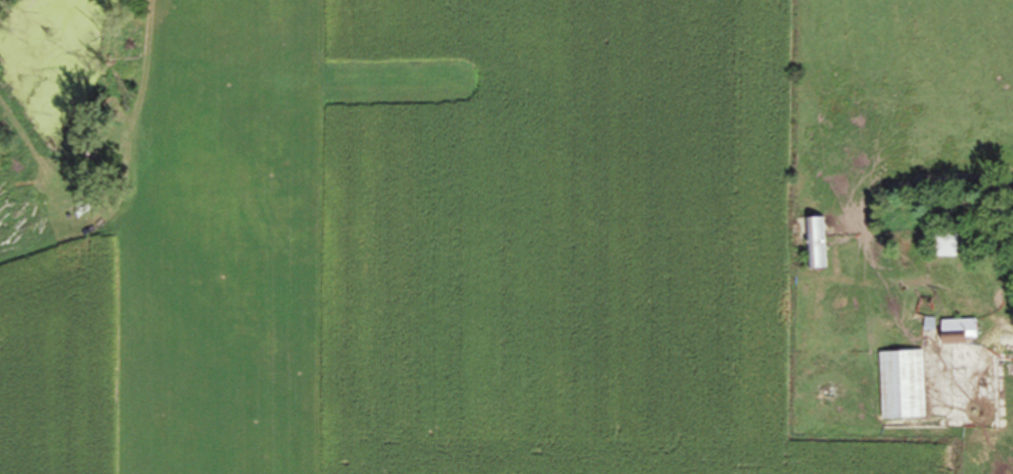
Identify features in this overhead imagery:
building: (816, 244)
building: (944, 246)
building: (958, 326)
building: (902, 385)

